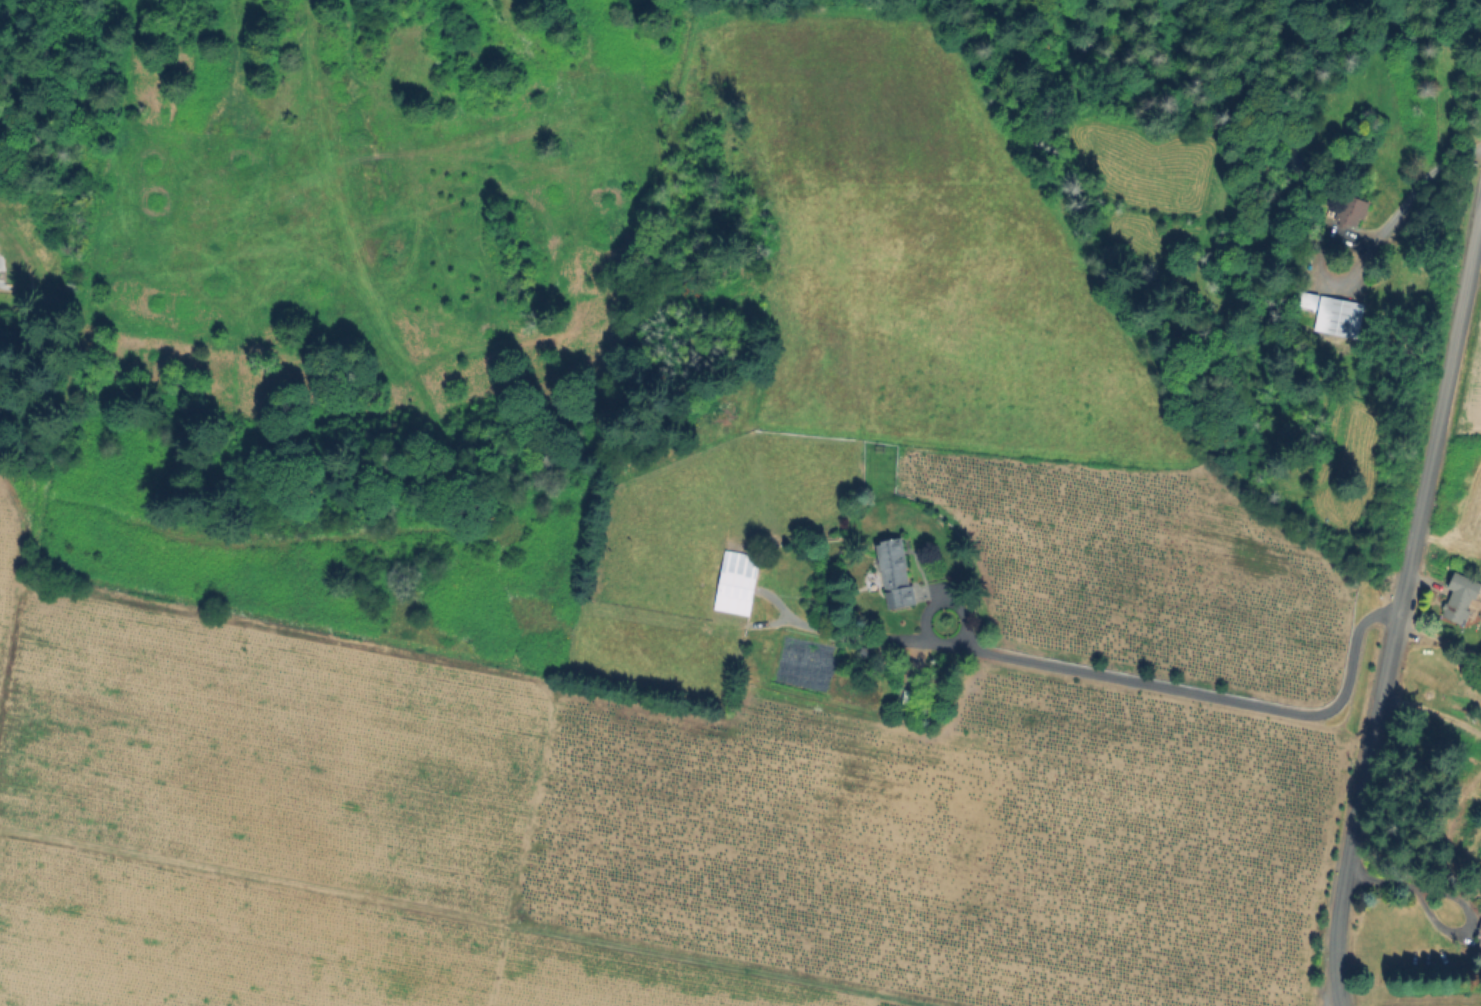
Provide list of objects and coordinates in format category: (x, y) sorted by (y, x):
road: (1412, 196)
building: (1351, 211)
building: (1334, 314)
building: (896, 574)
building: (737, 584)
building: (1462, 597)
road: (1401, 607)
building: (864, 652)
road: (1198, 696)
road: (1432, 713)
road: (1450, 897)
road: (473, 915)
building: (1478, 929)
building: (1480, 943)

